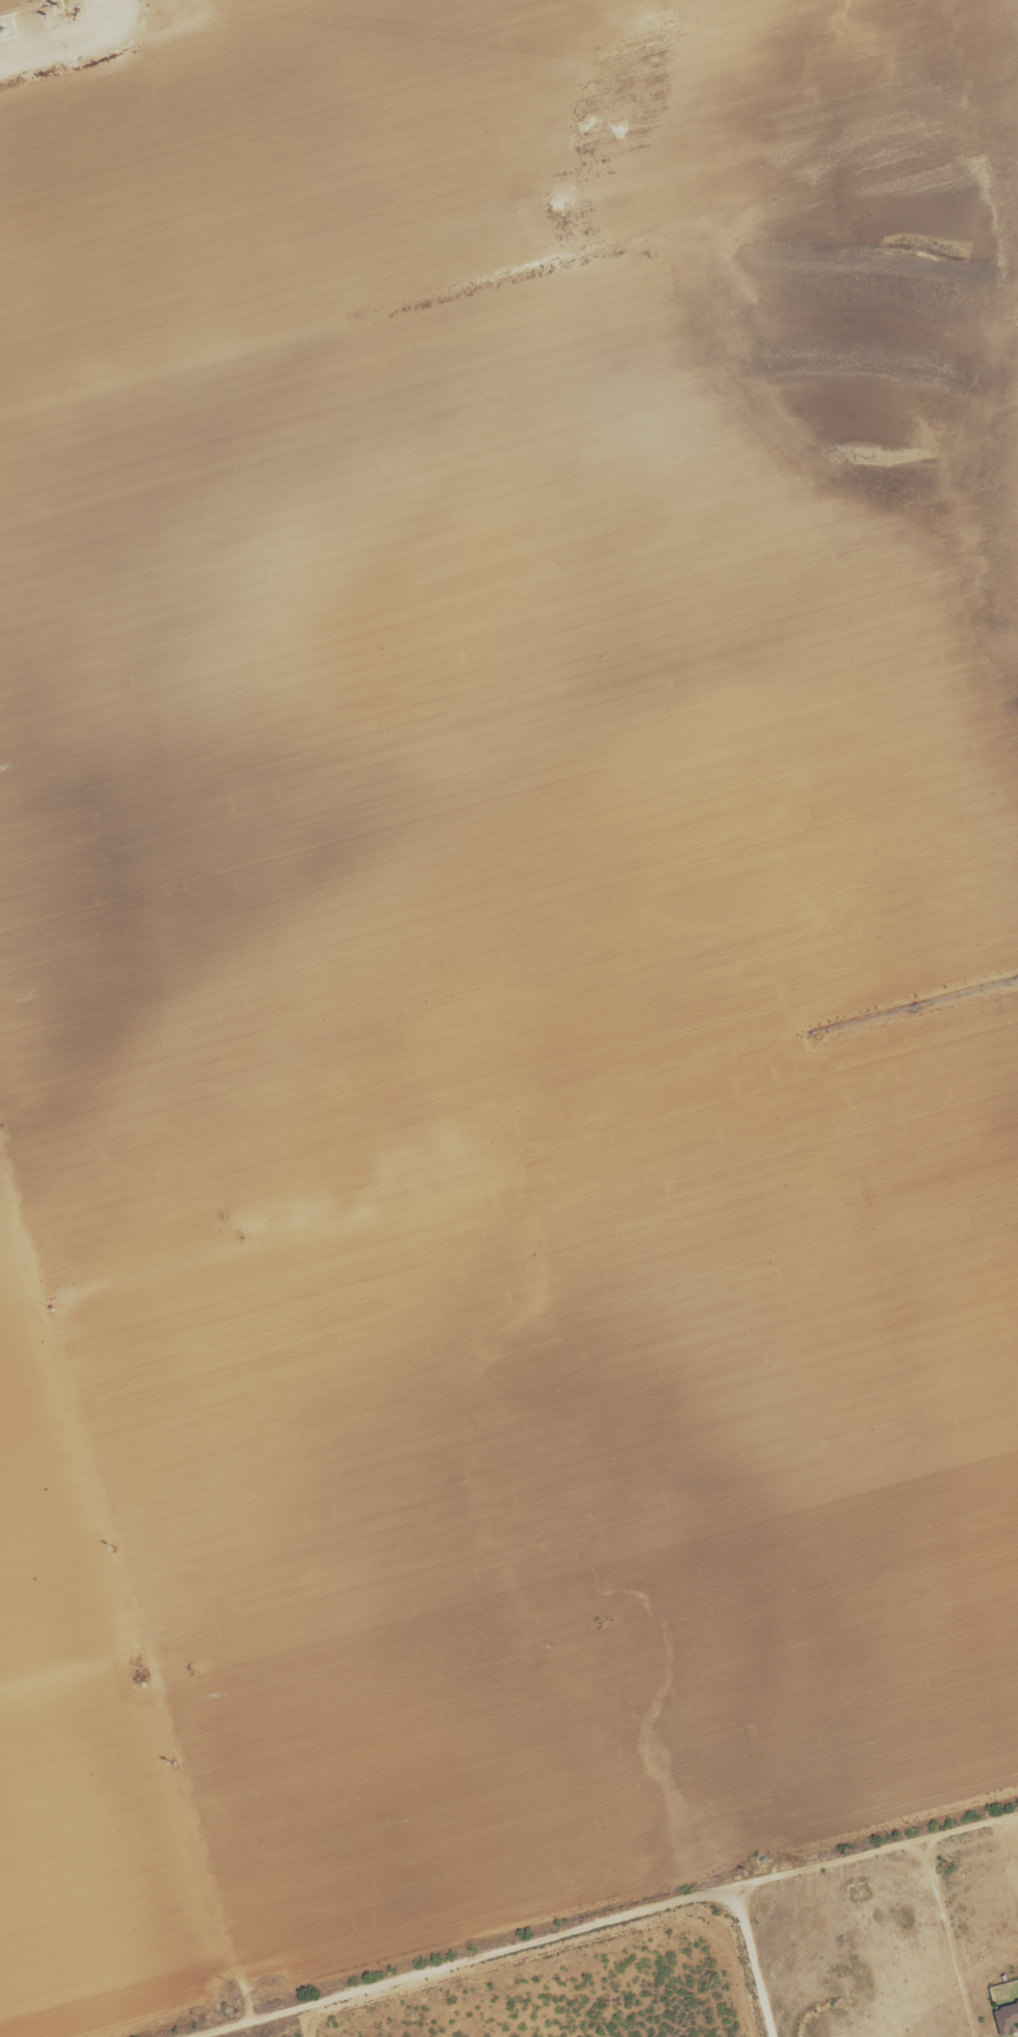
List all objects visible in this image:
road: (74, 25)
road: (104, 36)
road: (25, 62)
crop: (499, 984)
road: (642, 1922)
building: (1006, 2019)

